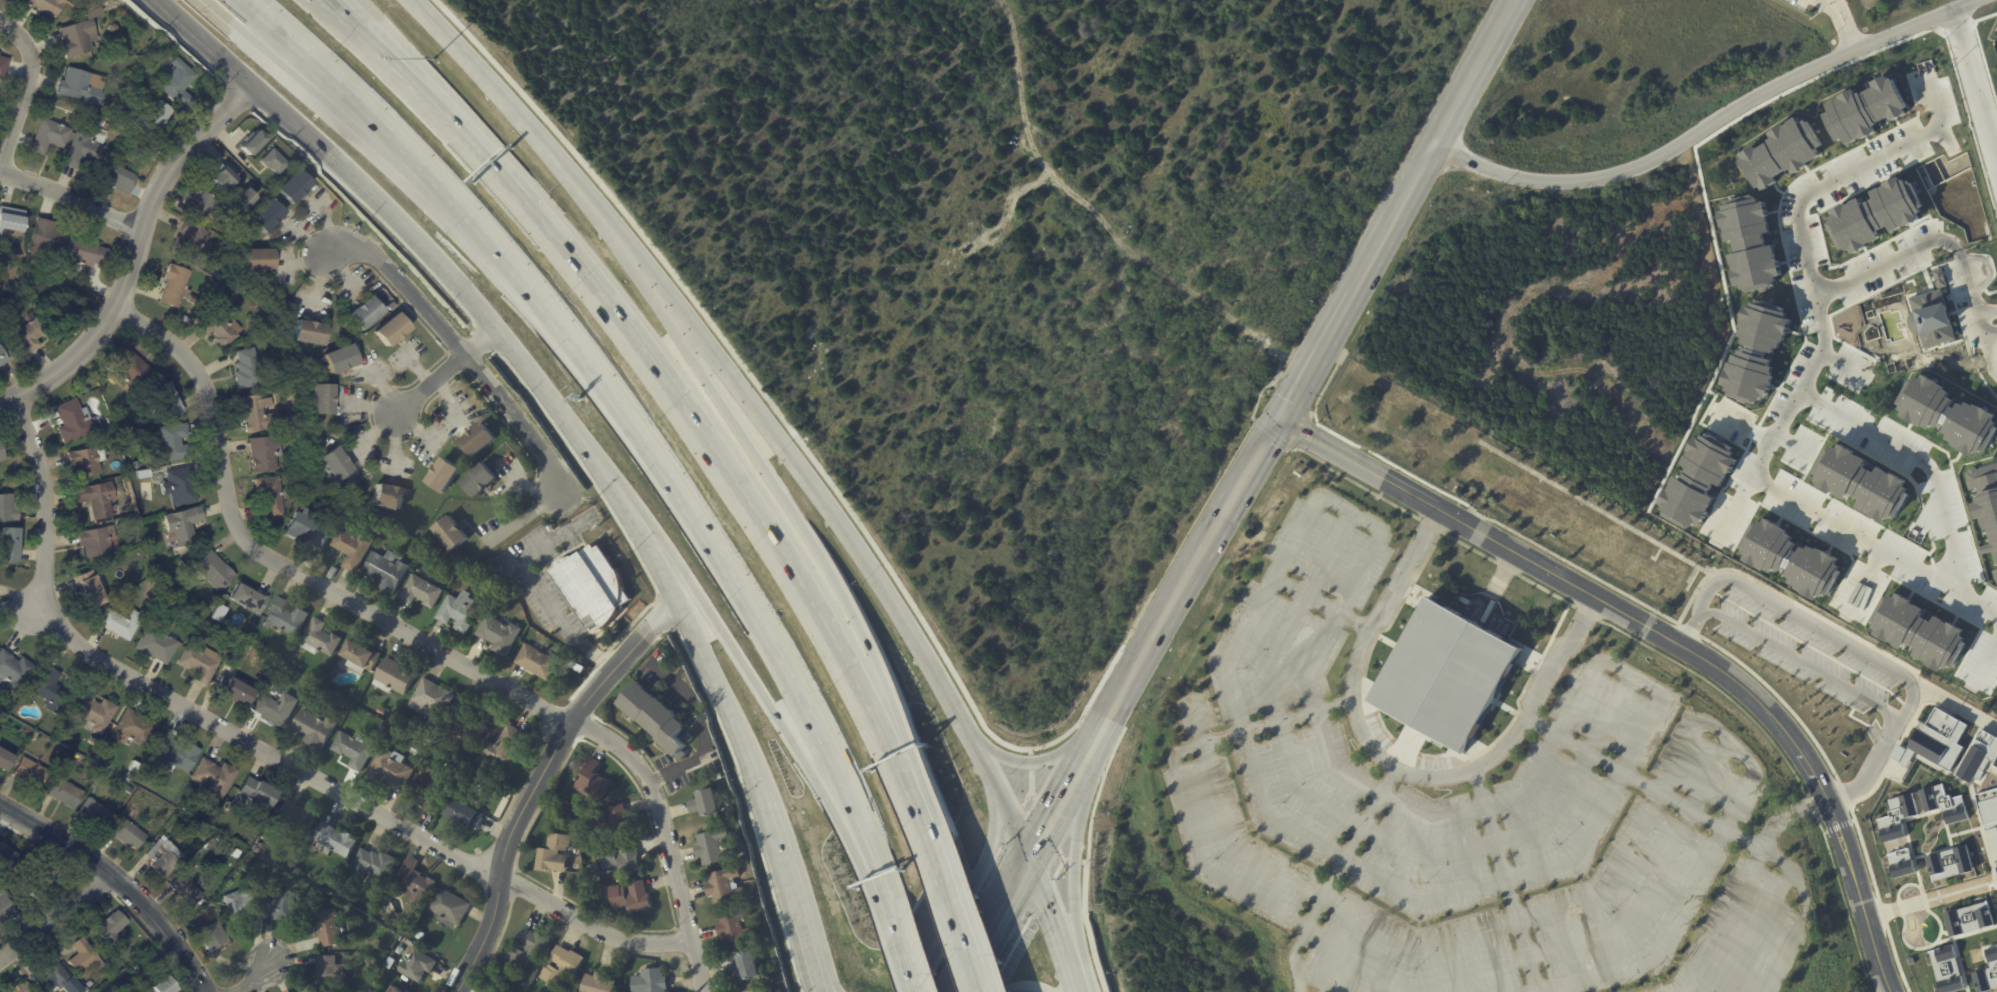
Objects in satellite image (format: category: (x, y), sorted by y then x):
building: (49, 6)
road: (1835, 22)
building: (116, 27)
road: (1959, 27)
building: (82, 31)
building: (168, 47)
road: (1982, 50)
road: (375, 52)
road: (391, 52)
building: (4, 69)
road: (1477, 72)
building: (179, 82)
road: (1975, 82)
building: (84, 85)
road: (23, 91)
road: (1961, 91)
road: (307, 95)
road: (501, 100)
building: (156, 120)
building: (103, 123)
road: (1710, 124)
building: (108, 125)
building: (53, 136)
building: (252, 142)
building: (90, 148)
building: (271, 161)
building: (221, 177)
building: (125, 179)
building: (293, 186)
building: (243, 197)
road: (70, 200)
building: (197, 203)
building: (265, 215)
building: (12, 222)
road: (405, 232)
building: (48, 238)
building: (187, 240)
road: (1924, 244)
building: (85, 254)
road: (133, 254)
building: (256, 260)
building: (59, 264)
building: (1234, 278)
road: (1358, 281)
building: (174, 287)
building: (193, 301)
building: (1193, 311)
road: (1990, 311)
building: (363, 312)
building: (185, 322)
road: (1985, 322)
road: (1992, 328)
building: (219, 329)
building: (390, 330)
building: (36, 332)
building: (308, 333)
building: (247, 339)
road: (1990, 347)
road: (458, 349)
building: (3, 355)
building: (339, 358)
building: (246, 369)
building: (131, 370)
road: (444, 371)
road: (1800, 391)
building: (165, 400)
building: (320, 400)
building: (118, 403)
building: (117, 411)
road: (624, 411)
building: (256, 415)
traffic signals: (1277, 419)
building: (70, 421)
road: (1741, 422)
road: (767, 429)
road: (1301, 431)
building: (296, 433)
building: (477, 440)
building: (317, 441)
building: (171, 442)
road: (712, 446)
building: (317, 450)
building: (263, 454)
building: (0, 458)
road: (1924, 459)
building: (83, 461)
building: (332, 464)
building: (133, 466)
building: (356, 469)
building: (141, 475)
building: (443, 475)
road: (824, 478)
building: (479, 480)
road: (1353, 482)
building: (178, 487)
building: (269, 497)
building: (388, 497)
building: (93, 500)
road: (1735, 501)
building: (126, 502)
road: (1462, 503)
road: (784, 507)
building: (7, 509)
building: (140, 513)
road: (1354, 513)
road: (525, 515)
building: (335, 517)
road: (1429, 526)
building: (179, 527)
building: (308, 531)
building: (450, 534)
building: (93, 542)
building: (6, 545)
building: (350, 549)
road: (651, 550)
building: (410, 551)
building: (175, 557)
building: (179, 563)
building: (212, 572)
building: (385, 572)
building: (463, 575)
road: (1184, 579)
road: (539, 587)
building: (91, 588)
building: (596, 589)
building: (419, 593)
building: (148, 594)
building: (248, 598)
road: (1322, 604)
road: (1701, 608)
road: (33, 610)
building: (457, 613)
road: (1586, 613)
building: (283, 616)
building: (120, 620)
building: (191, 621)
road: (1817, 629)
road: (1689, 630)
road: (1661, 634)
building: (497, 636)
building: (318, 637)
road: (1389, 640)
building: (156, 642)
road: (423, 642)
building: (233, 644)
building: (538, 654)
building: (358, 656)
building: (200, 661)
road: (1805, 663)
building: (13, 671)
building: (1446, 674)
road: (1633, 674)
road: (715, 677)
building: (64, 679)
building: (393, 679)
building: (51, 688)
road: (1716, 688)
building: (233, 691)
road: (764, 695)
road: (1363, 696)
road: (1778, 698)
building: (430, 701)
road: (952, 701)
road: (1951, 701)
road: (1505, 707)
building: (274, 708)
building: (380, 710)
building: (94, 711)
building: (656, 718)
building: (135, 725)
building: (461, 726)
road: (1261, 728)
building: (313, 730)
building: (62, 731)
building: (380, 731)
road: (706, 733)
road: (1370, 736)
building: (32, 737)
building: (93, 741)
building: (425, 741)
building: (1933, 741)
road: (1346, 745)
road: (1733, 745)
building: (501, 748)
road: (1881, 749)
road: (261, 750)
road: (1355, 751)
building: (351, 752)
building: (103, 753)
building: (174, 755)
building: (1978, 756)
building: (65, 757)
road: (983, 760)
building: (4, 761)
building: (445, 765)
road: (1032, 765)
building: (133, 767)
road: (1397, 768)
building: (388, 772)
road: (1435, 772)
building: (29, 774)
building: (130, 776)
road: (756, 776)
building: (212, 777)
road: (538, 780)
building: (592, 782)
building: (432, 789)
road: (1843, 793)
building: (62, 794)
road: (1379, 794)
building: (255, 797)
road: (1436, 798)
road: (1061, 799)
building: (704, 803)
building: (1943, 803)
building: (1987, 805)
building: (227, 806)
road: (1684, 806)
road: (1810, 806)
building: (94, 813)
building: (144, 815)
building: (463, 816)
road: (1788, 816)
building: (1896, 817)
building: (294, 819)
road: (1013, 820)
building: (611, 821)
road: (1362, 824)
building: (128, 834)
building: (204, 837)
building: (334, 841)
building: (1992, 842)
road: (932, 845)
building: (712, 848)
building: (258, 849)
road: (1864, 852)
building: (553, 854)
building: (7, 856)
building: (162, 857)
building: (619, 857)
road: (1344, 859)
traffic signals: (1032, 861)
building: (1900, 863)
building: (1948, 863)
road: (1069, 864)
building: (372, 865)
building: (1996, 869)
road: (1208, 871)
building: (296, 872)
road: (1335, 877)
road: (1506, 880)
building: (42, 881)
road: (118, 881)
building: (413, 884)
building: (723, 887)
road: (967, 890)
building: (184, 891)
road: (791, 892)
building: (631, 897)
road: (1909, 905)
building: (239, 906)
road: (1844, 906)
building: (7, 907)
building: (279, 908)
building: (448, 909)
road: (1881, 911)
road: (1878, 913)
road: (1003, 914)
road: (56, 917)
road: (894, 918)
road: (1676, 918)
building: (1967, 918)
road: (1723, 921)
road: (959, 925)
building: (734, 926)
road: (1056, 926)
building: (112, 927)
building: (327, 929)
road: (1759, 929)
building: (420, 936)
building: (212, 939)
road: (1563, 945)
building: (434, 946)
road: (1432, 946)
building: (526, 948)
road: (1785, 955)
building: (86, 958)
road: (1895, 958)
road: (908, 960)
building: (1910, 960)
building: (157, 964)
building: (389, 965)
building: (417, 967)
building: (744, 967)
building: (561, 968)
building: (1946, 969)
building: (330, 973)
building: (1987, 973)
building: (53, 975)
road: (251, 976)
road: (968, 980)
road: (1319, 980)
building: (649, 981)
building: (91, 983)
building: (597, 983)
building: (165, 986)
building: (25, 988)
road: (816, 988)
road: (818, 988)
building: (395, 990)
building: (407, 990)
road: (1025, 990)
building: (310, 991)

